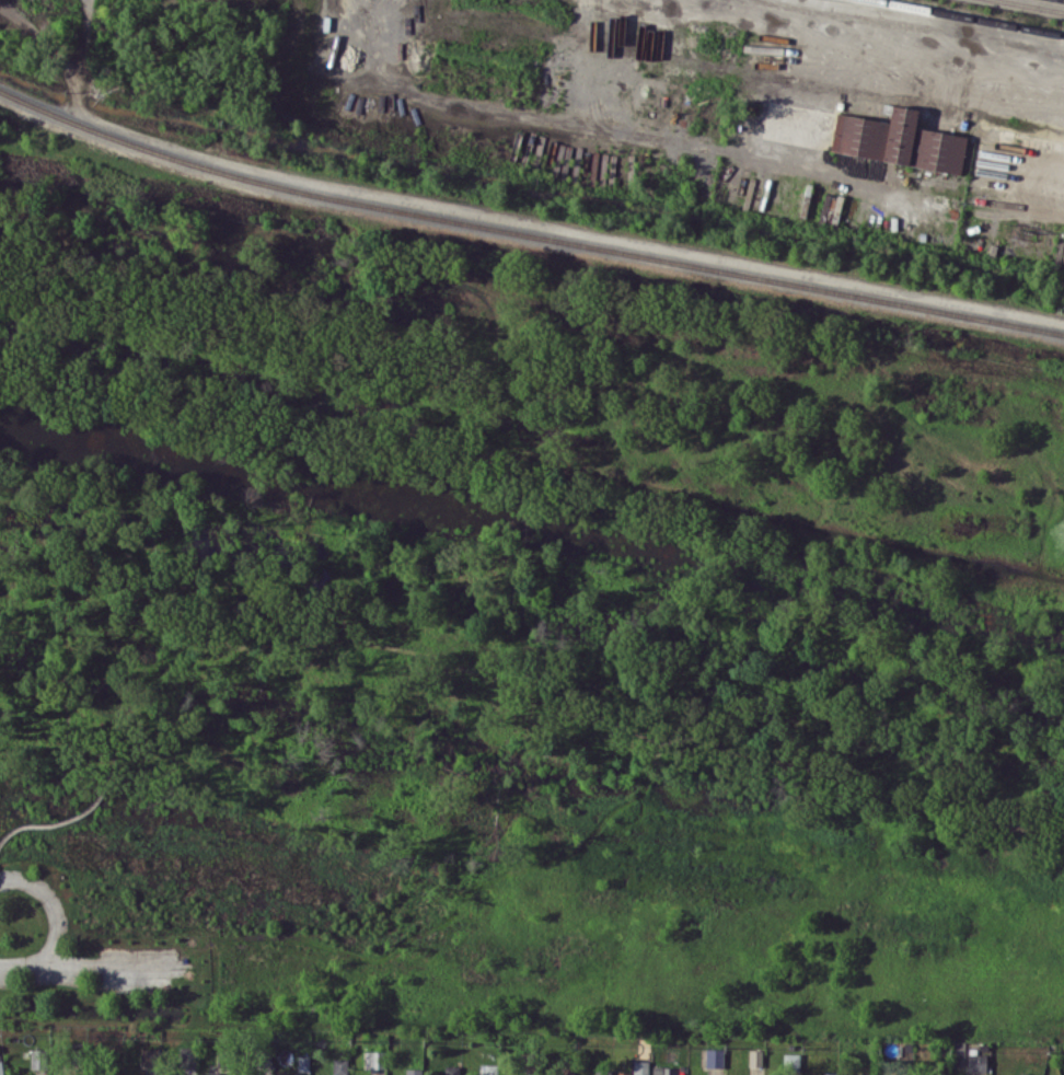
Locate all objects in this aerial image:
railway: (1033, 5)
railway: (969, 18)
building: (897, 140)
railway: (165, 146)
building: (830, 208)
railway: (699, 262)
road: (85, 968)
building: (150, 1055)
building: (187, 1055)
building: (714, 1056)
building: (37, 1057)
building: (373, 1059)
building: (790, 1062)
building: (976, 1062)
building: (1, 1066)
building: (339, 1066)
building: (640, 1067)
building: (489, 1068)
building: (663, 1070)
building: (414, 1072)
building: (602, 1072)
building: (209, 1073)
building: (55, 1074)
building: (867, 1074)
building: (1026, 1074)

